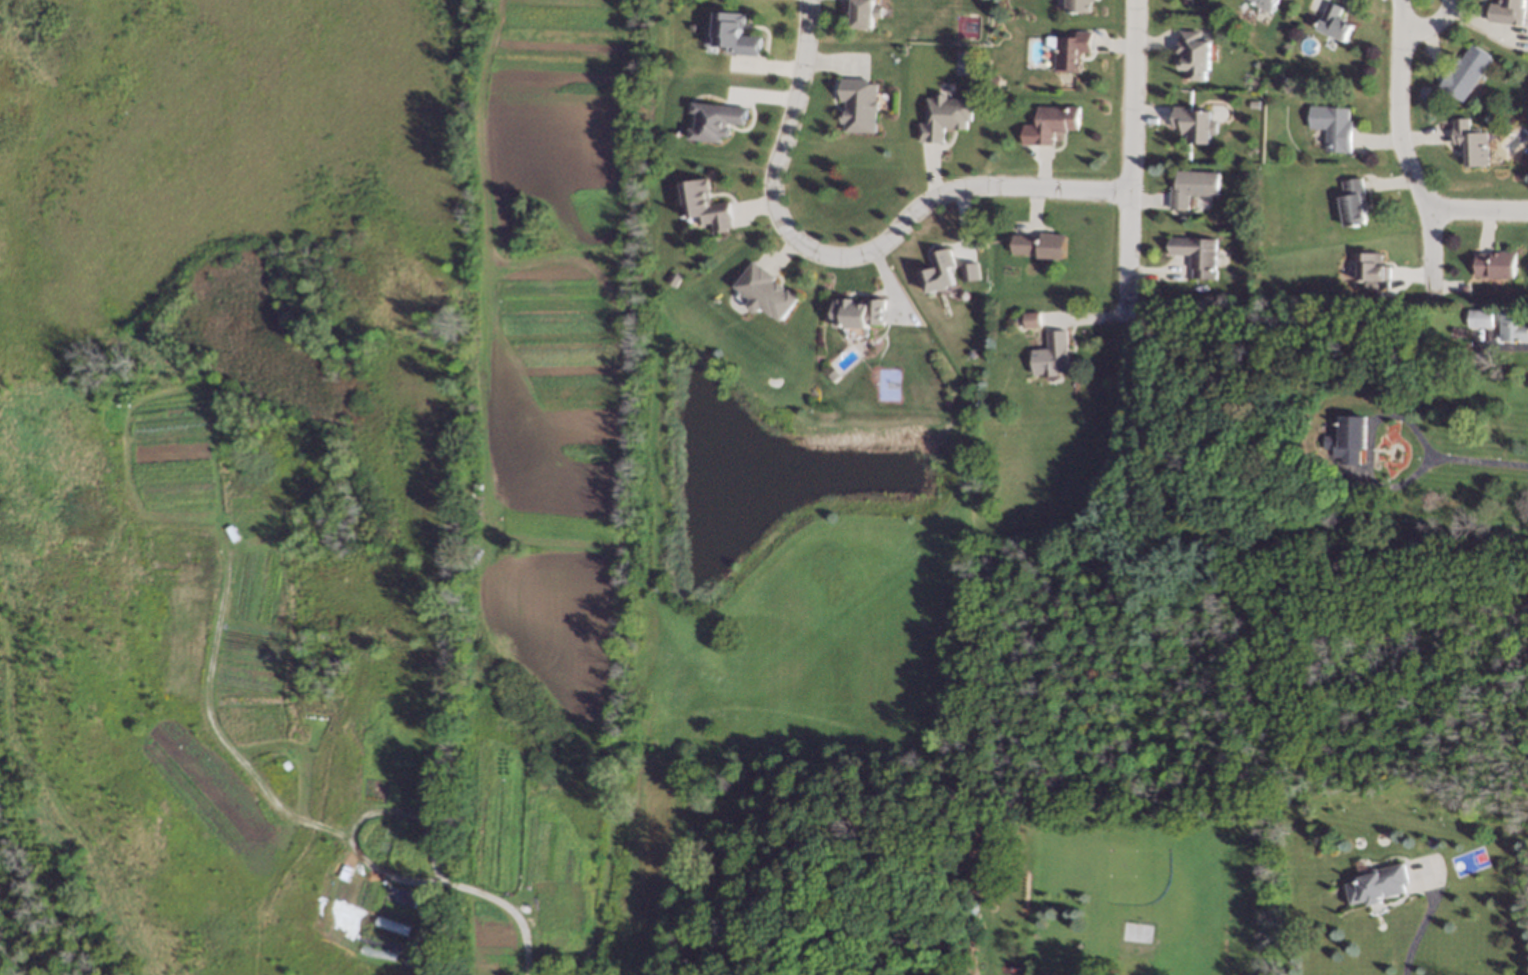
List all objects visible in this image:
building: (1187, 2)
building: (1265, 4)
building: (1080, 6)
building: (1508, 12)
building: (863, 13)
building: (1335, 22)
road: (1432, 26)
building: (733, 33)
building: (1070, 51)
building: (1194, 56)
building: (1466, 72)
building: (994, 82)
building: (1003, 82)
building: (859, 104)
building: (1254, 105)
road: (793, 110)
building: (944, 116)
building: (719, 120)
building: (1055, 123)
building: (1195, 124)
building: (1333, 126)
building: (1030, 134)
building: (1472, 145)
road: (1403, 150)
road: (1130, 158)
building: (1247, 176)
building: (1192, 188)
road: (936, 195)
building: (1353, 202)
building: (708, 206)
road: (1477, 209)
park: (280, 215)
building: (1181, 219)
building: (978, 245)
building: (1042, 245)
building: (1197, 254)
building: (1496, 265)
building: (940, 271)
building: (971, 271)
building: (1372, 271)
building: (676, 279)
building: (767, 292)
building: (965, 295)
building: (860, 313)
building: (1479, 318)
building: (1034, 320)
building: (1512, 325)
building: (1054, 355)
building: (834, 376)
building: (1348, 439)
road: (1369, 449)
road: (1485, 463)
building: (1347, 514)
park: (797, 574)
park: (250, 692)
park: (655, 873)
building: (1378, 885)
river: (27, 922)
road: (1421, 928)
building: (982, 964)
building: (733, 974)

